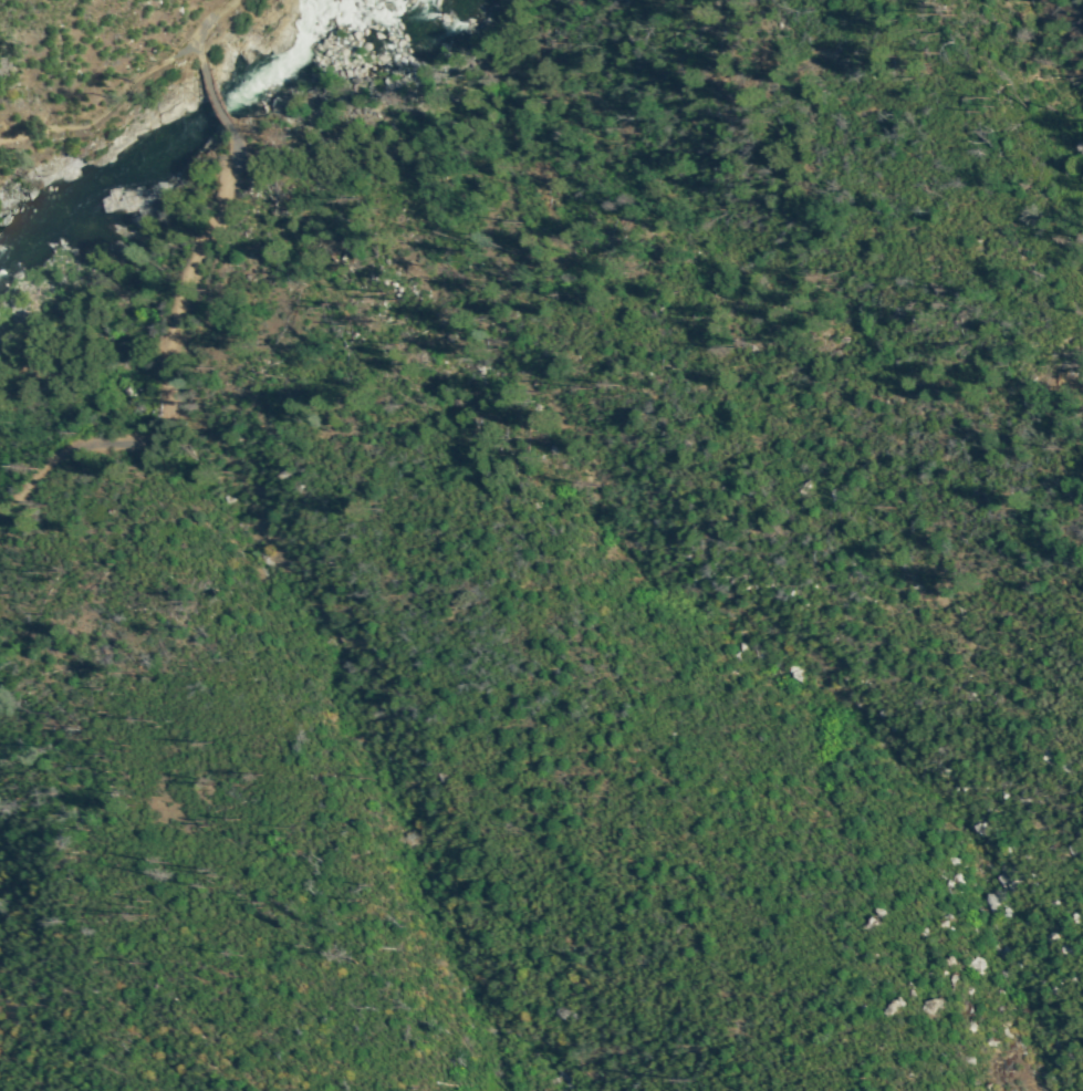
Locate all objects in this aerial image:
road: (209, 20)
road: (212, 96)
road: (108, 113)
river: (205, 126)
road: (170, 373)
road: (174, 789)

